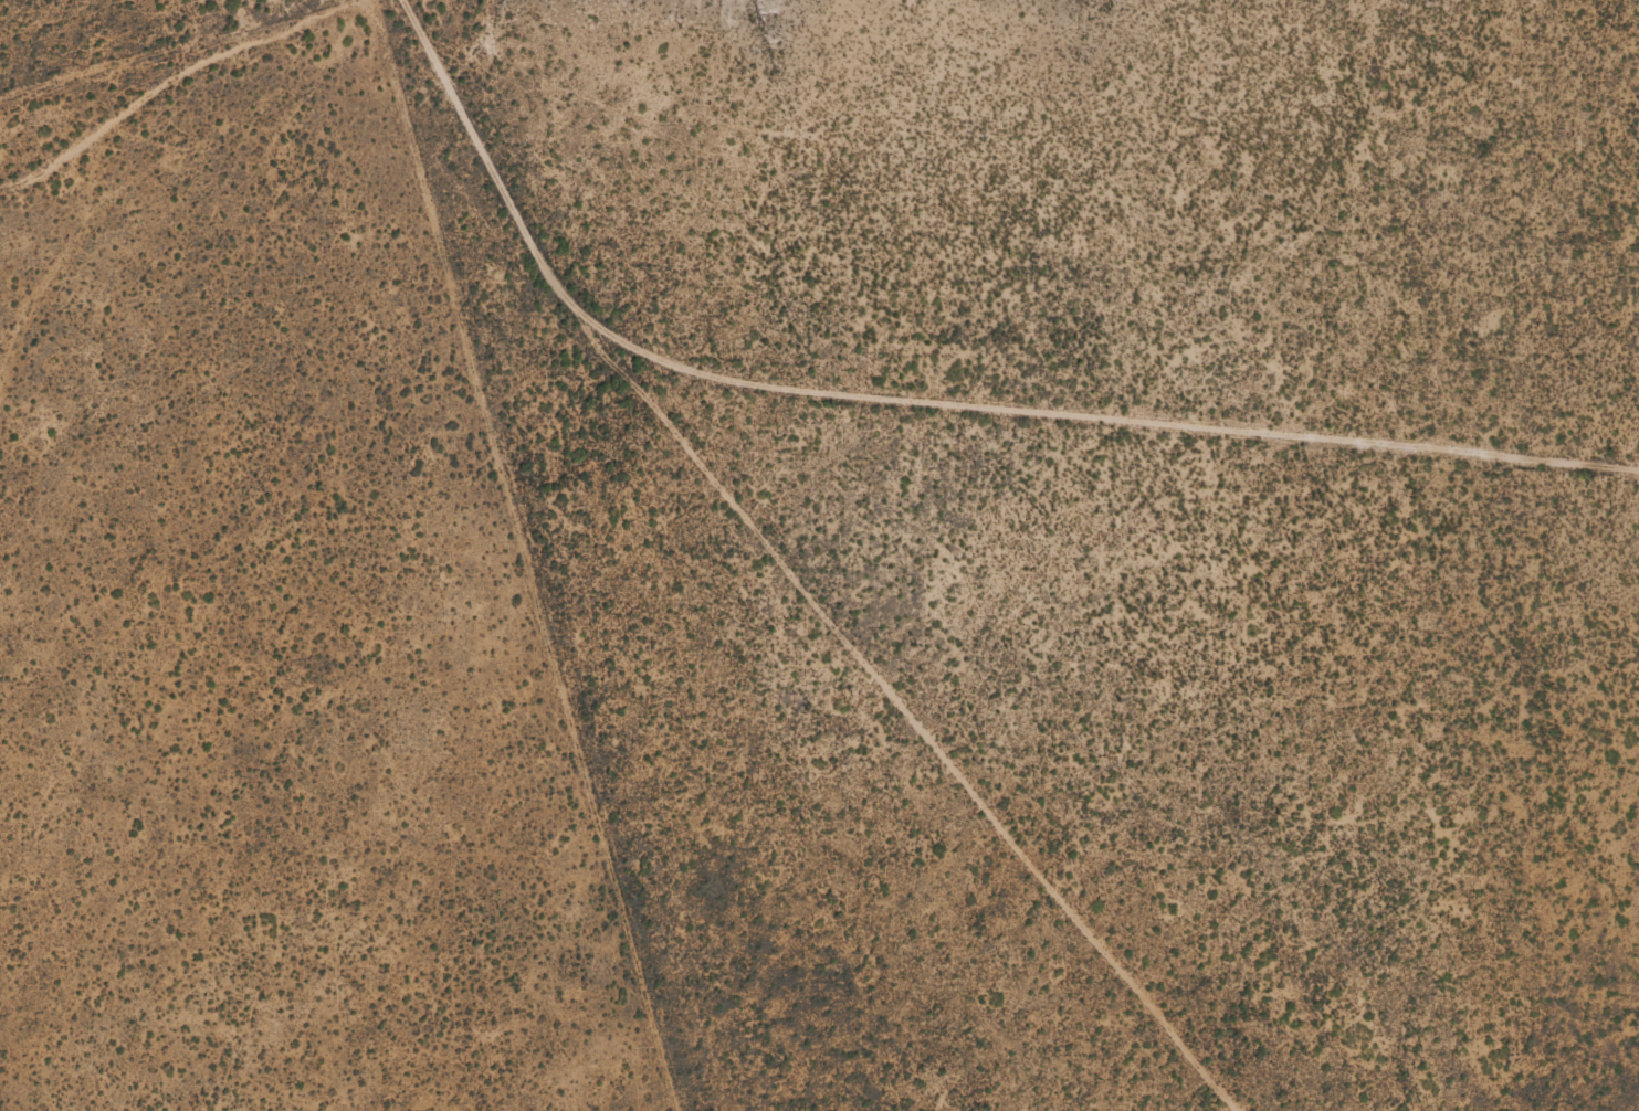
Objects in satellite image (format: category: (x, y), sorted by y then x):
road: (884, 517)

